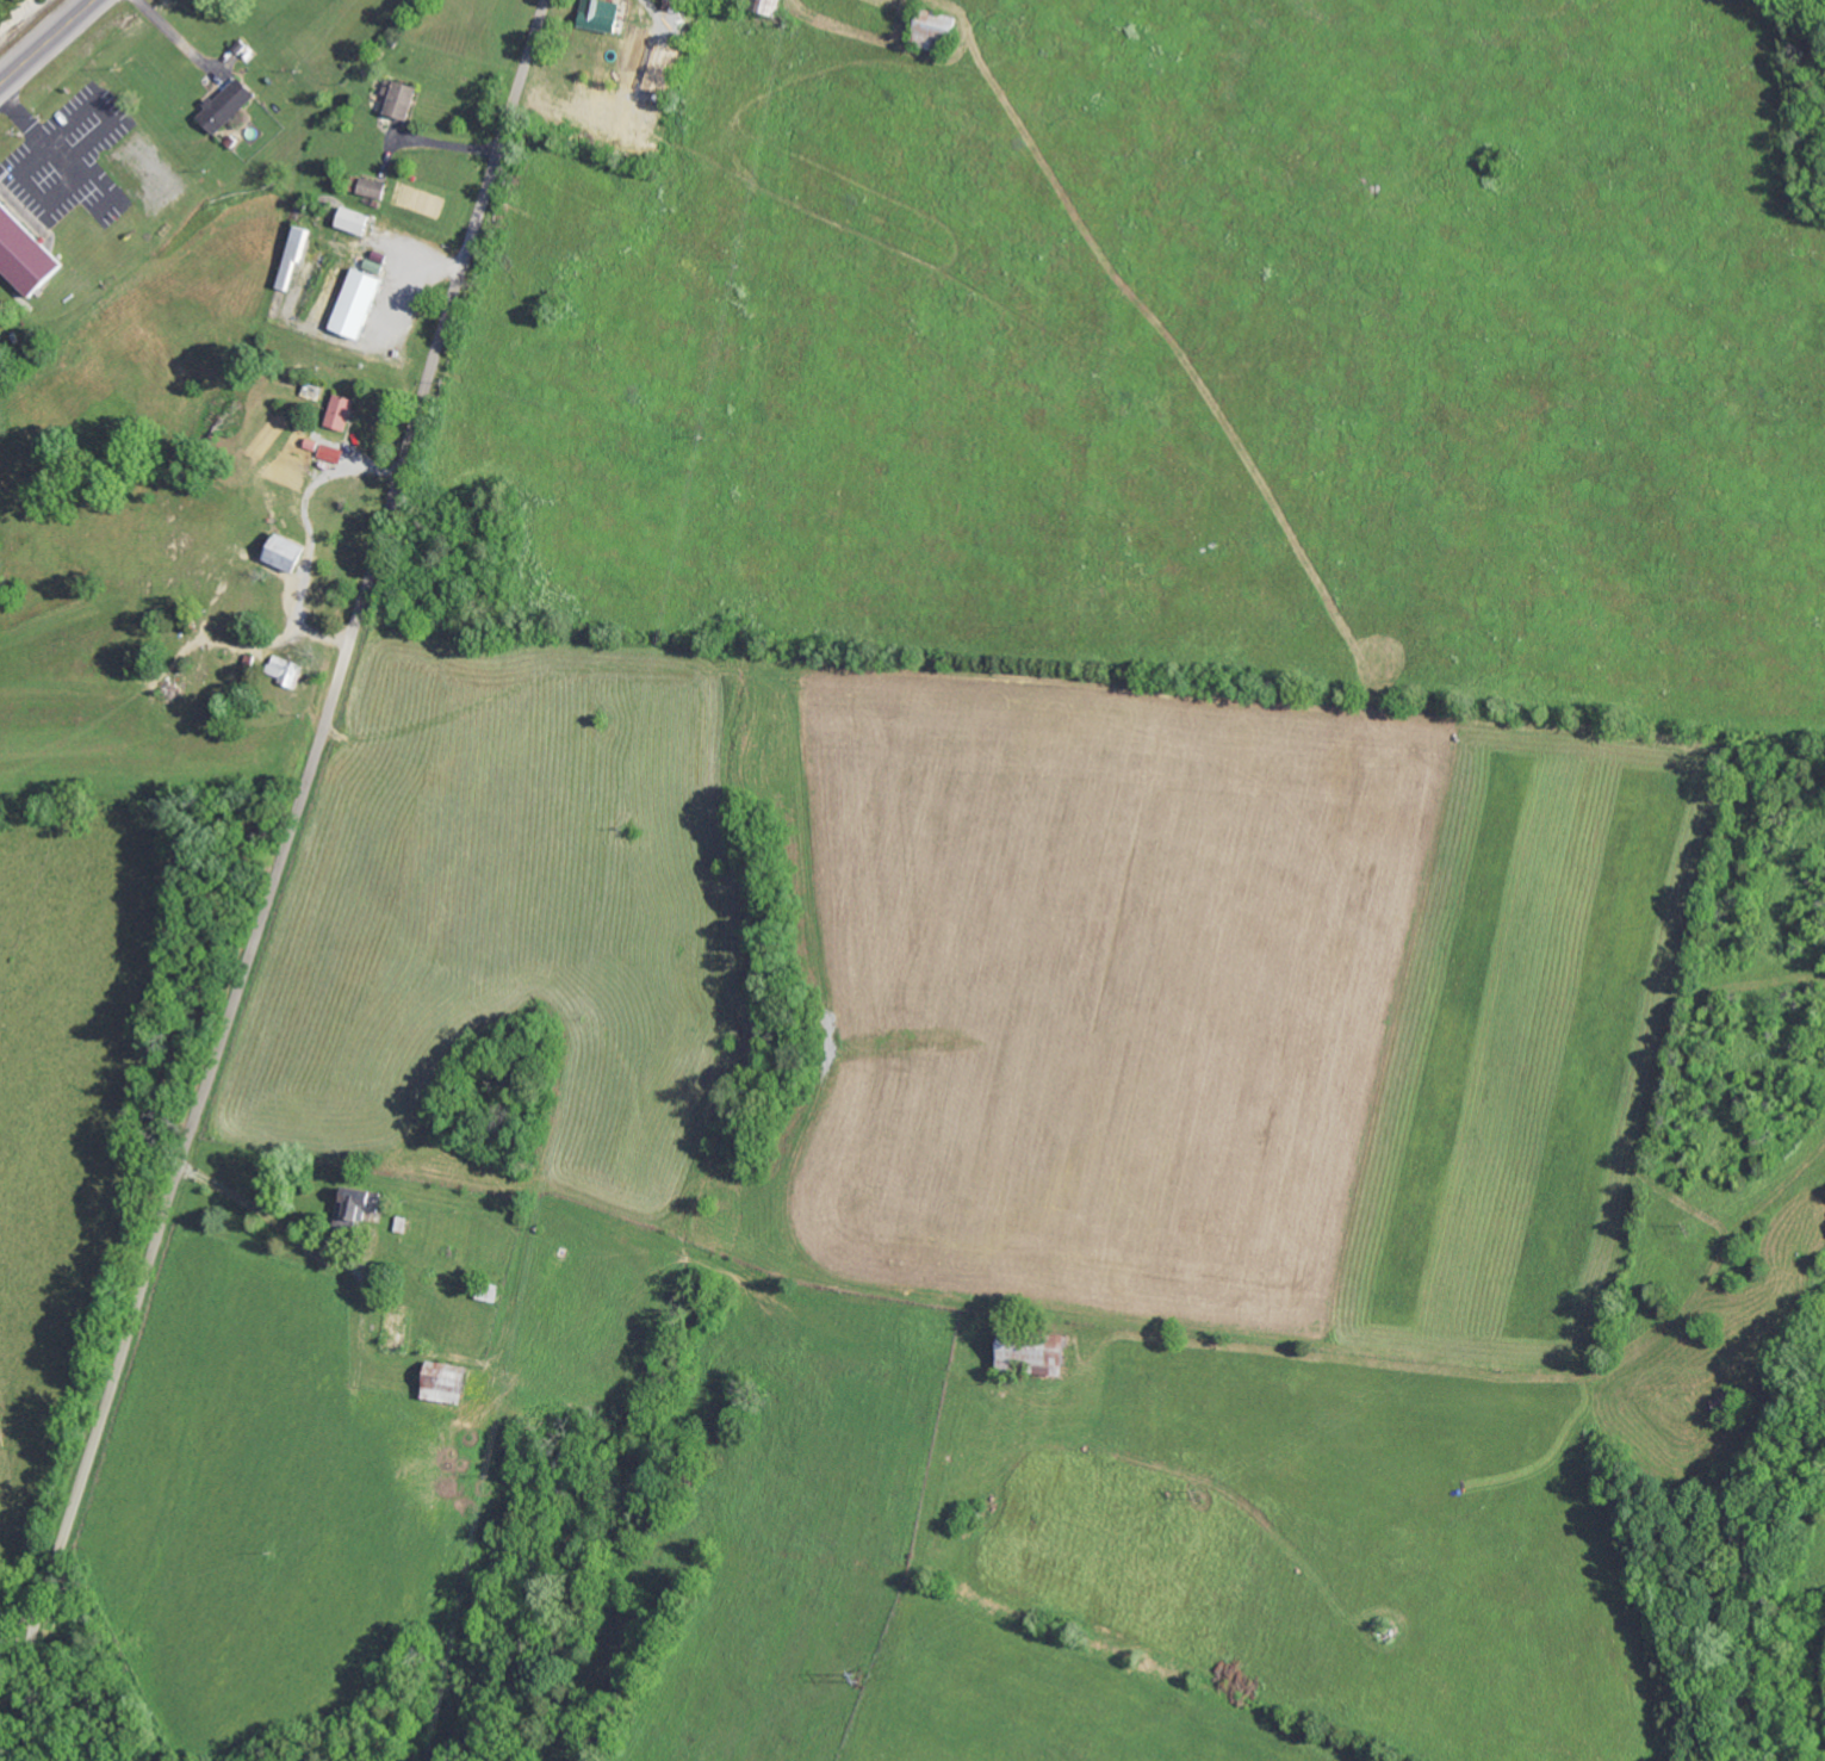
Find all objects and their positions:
building: (672, 4)
building: (772, 5)
building: (604, 14)
building: (942, 29)
road: (44, 39)
building: (403, 97)
building: (228, 104)
building: (373, 186)
building: (358, 219)
building: (26, 250)
building: (298, 253)
building: (360, 302)
building: (343, 410)
building: (333, 452)
building: (291, 553)
building: (286, 669)
road: (272, 879)
building: (361, 1202)
building: (1041, 1360)
building: (452, 1385)

